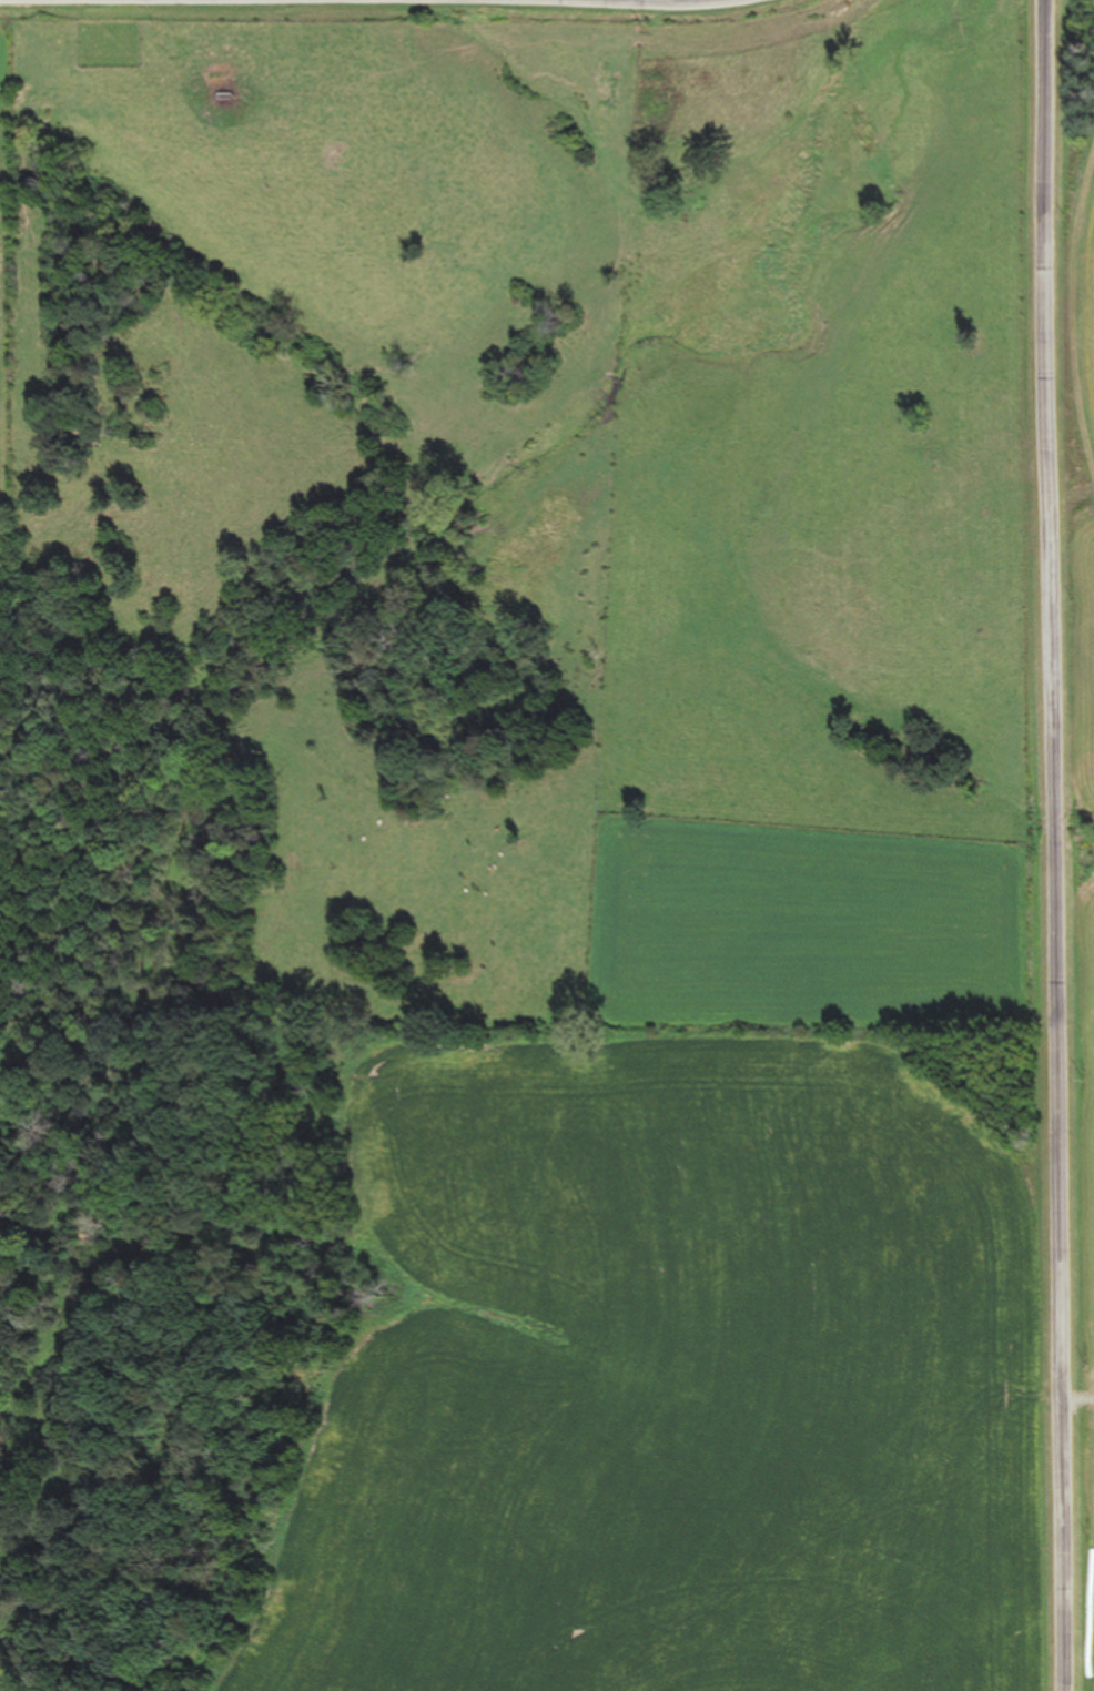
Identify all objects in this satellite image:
road: (1020, 845)

